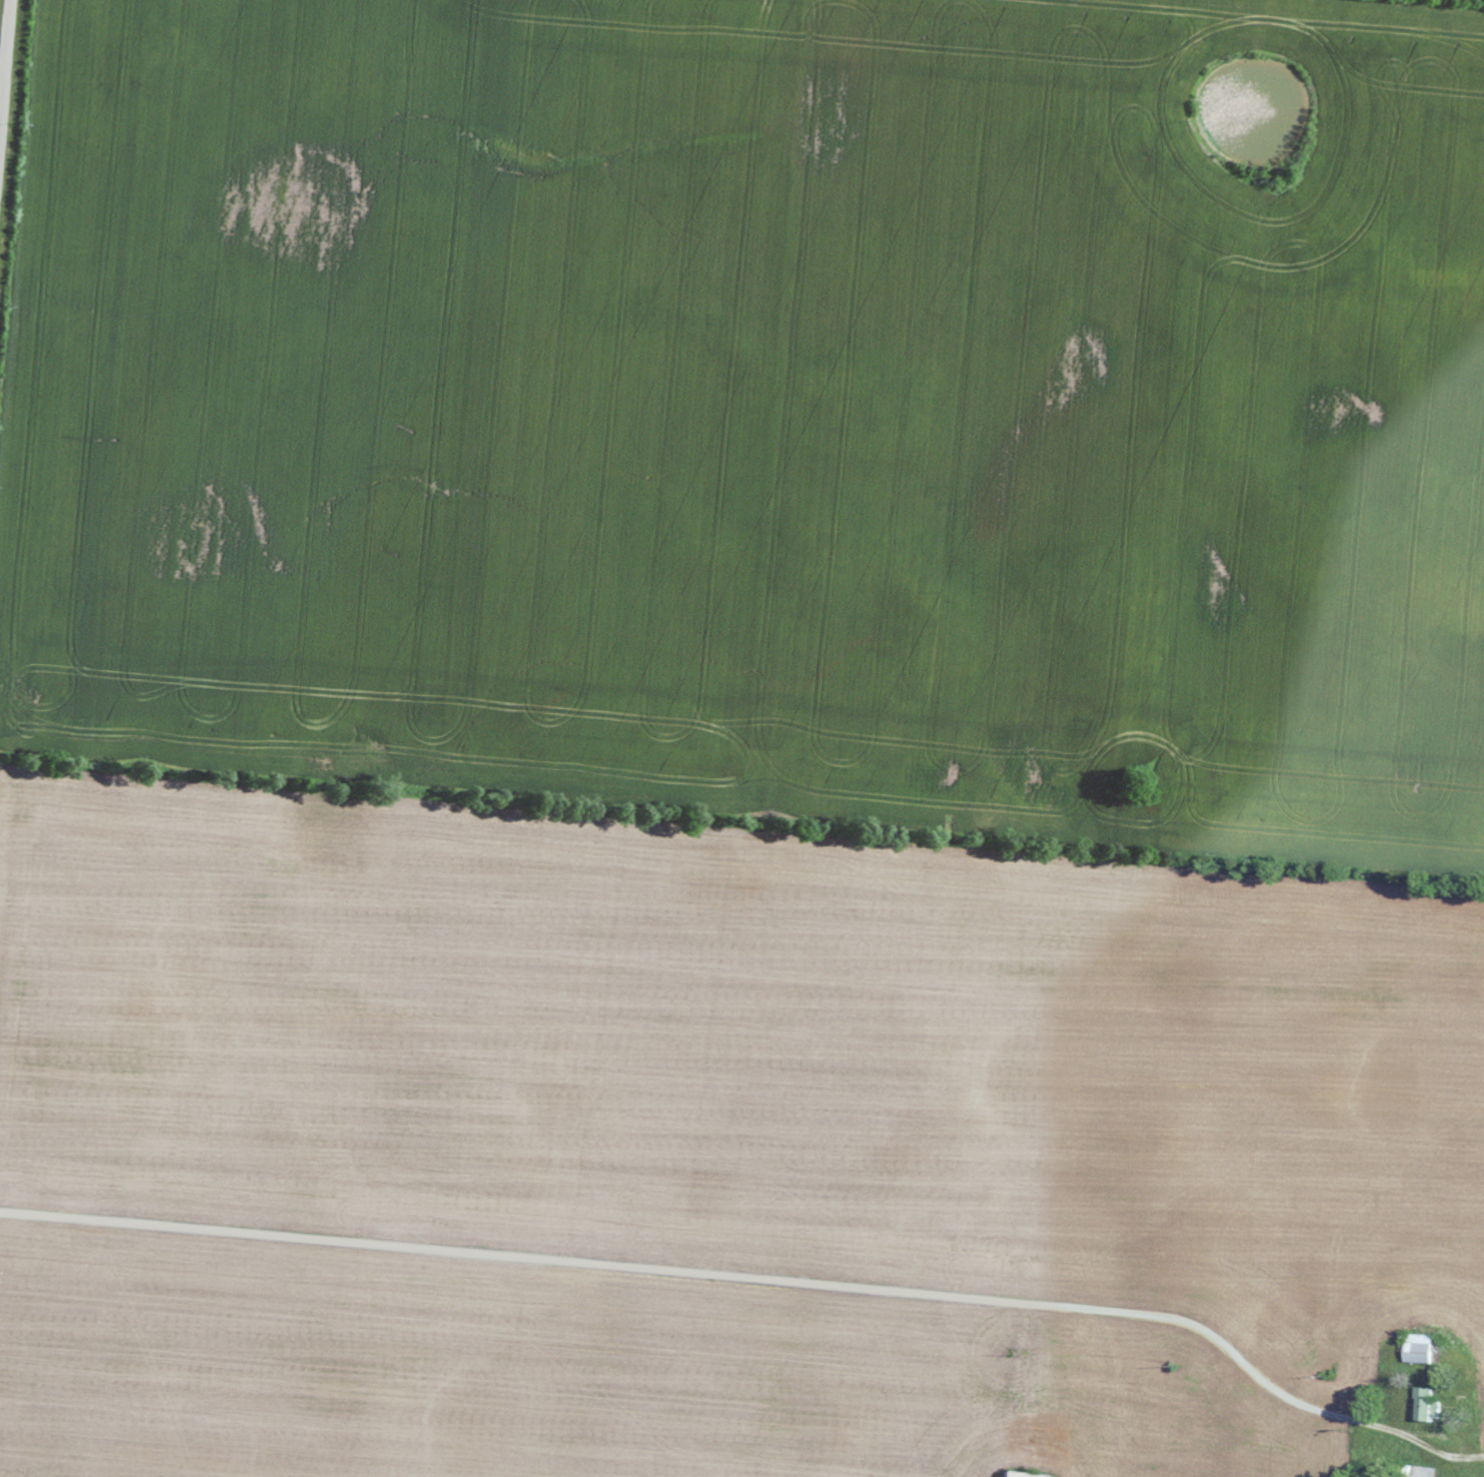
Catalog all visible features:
road: (6, 76)
road: (765, 1260)
building: (1429, 1403)
building: (1031, 1475)

